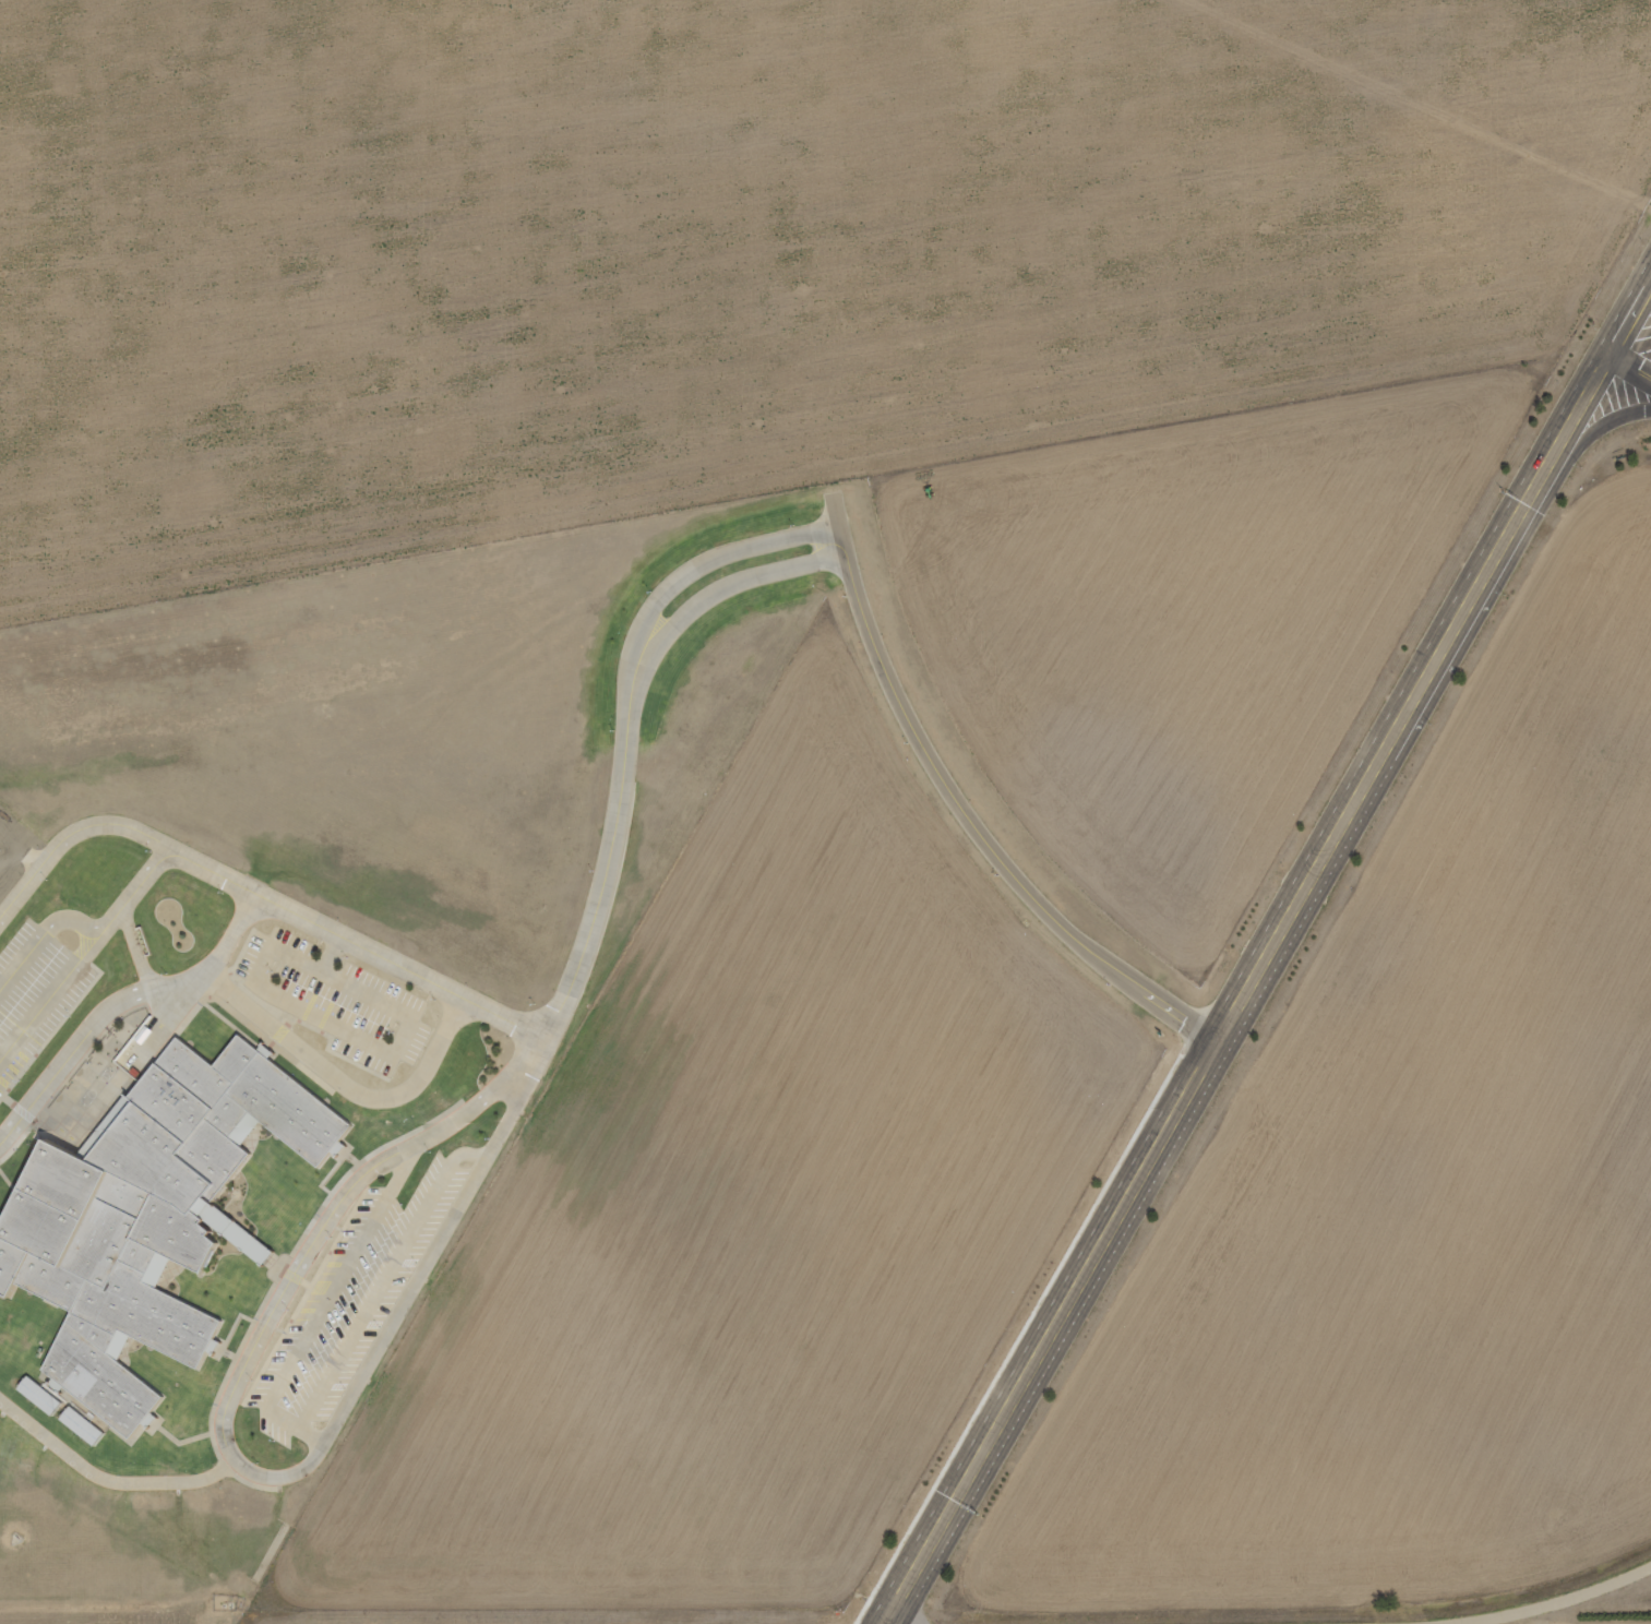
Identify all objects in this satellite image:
road: (1631, 317)
road: (1631, 362)
road: (1600, 426)
road: (693, 588)
road: (709, 605)
road: (121, 827)
road: (976, 831)
road: (1248, 988)
parking lot: (35, 991)
road: (120, 1001)
road: (548, 1023)
building: (141, 1216)
parking lot: (339, 1290)
road: (252, 1477)
road: (108, 1481)
road: (1546, 1603)

